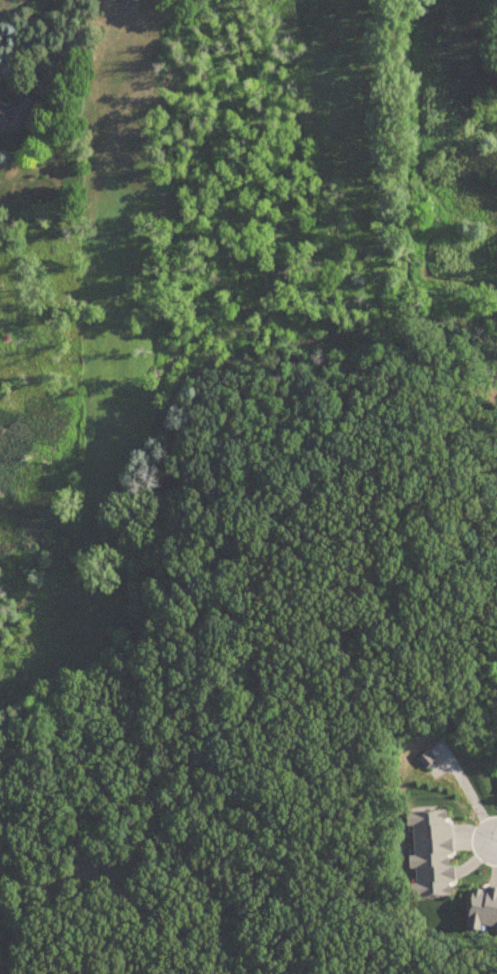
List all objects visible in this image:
building: (18, 116)
building: (428, 760)
road: (496, 841)

